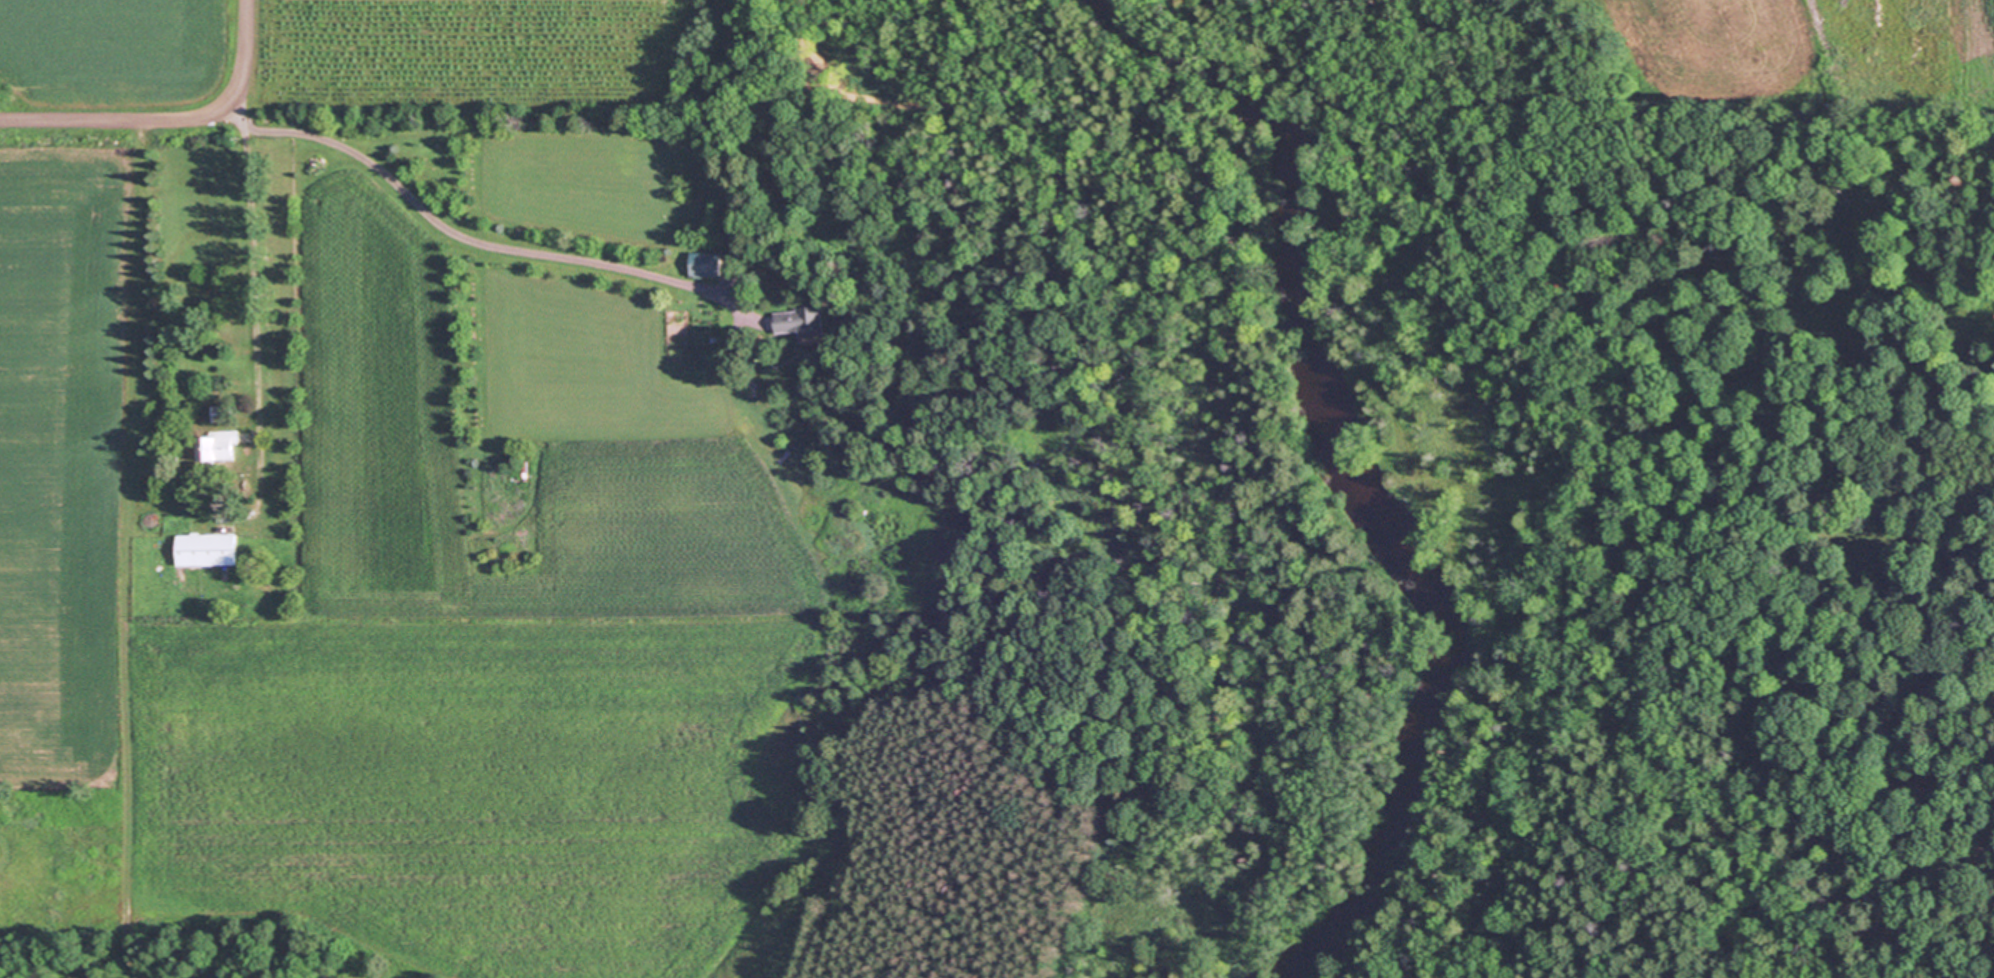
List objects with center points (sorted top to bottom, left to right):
road: (169, 117)
road: (335, 143)
building: (709, 263)
building: (802, 322)
building: (220, 447)
river: (1354, 478)
building: (208, 550)

